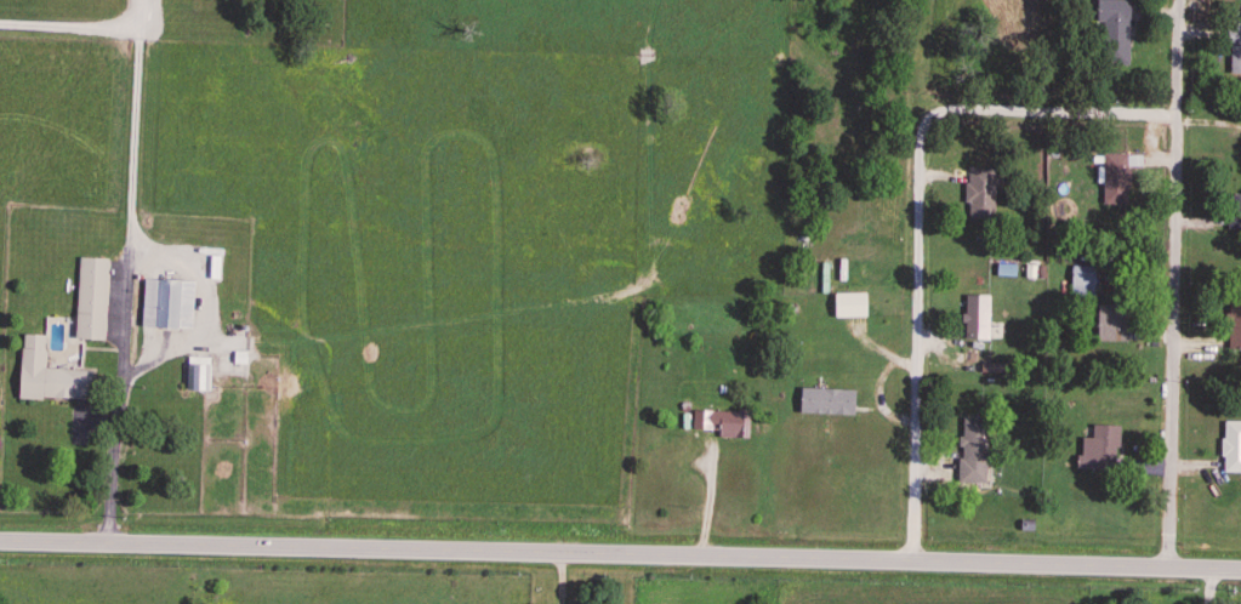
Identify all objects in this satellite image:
road: (131, 15)
building: (1110, 29)
building: (1233, 52)
building: (1112, 181)
road: (129, 186)
building: (978, 195)
building: (1234, 212)
road: (920, 213)
building: (1080, 285)
road: (1173, 292)
building: (89, 301)
building: (164, 306)
building: (973, 318)
building: (1109, 326)
building: (1231, 326)
building: (819, 347)
building: (45, 376)
building: (195, 376)
building: (718, 423)
building: (1098, 448)
building: (1230, 448)
building: (972, 451)
road: (109, 507)
road: (620, 553)

